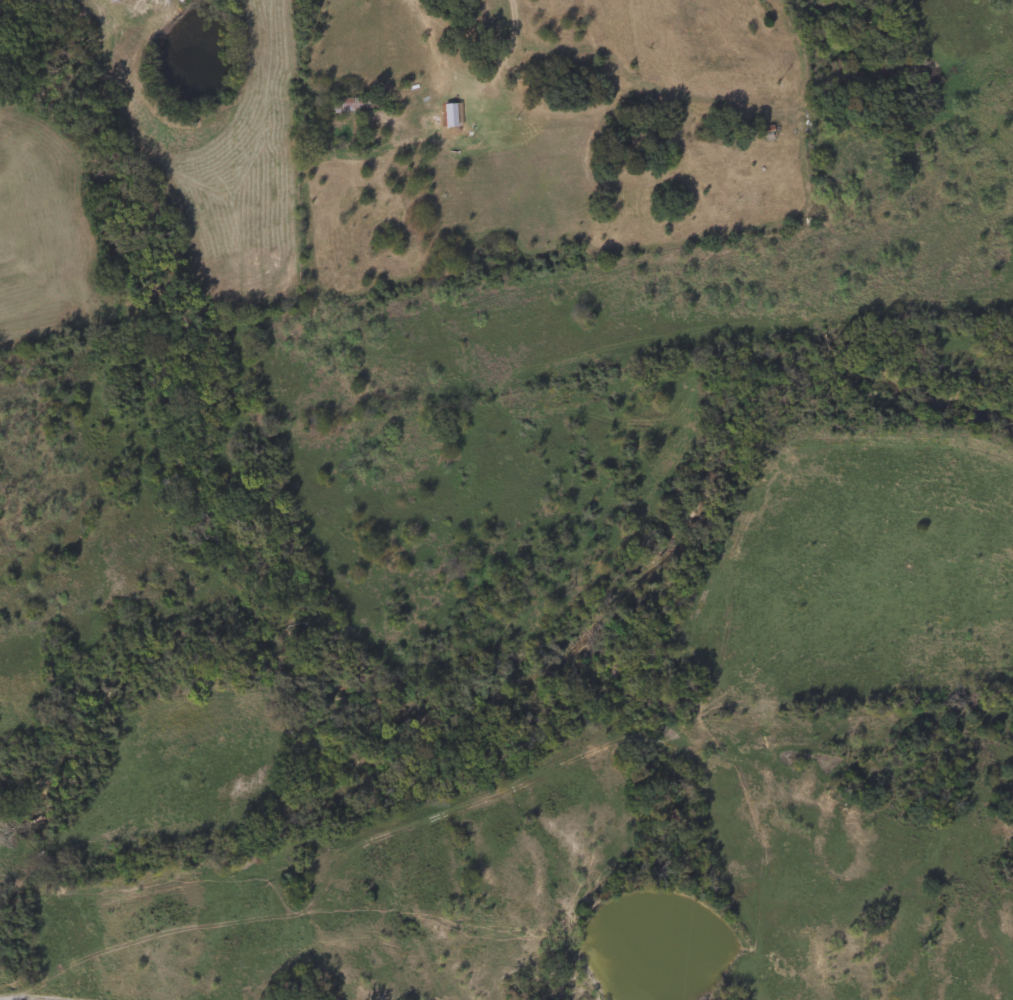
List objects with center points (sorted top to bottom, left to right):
building: (349, 104)
building: (449, 114)

